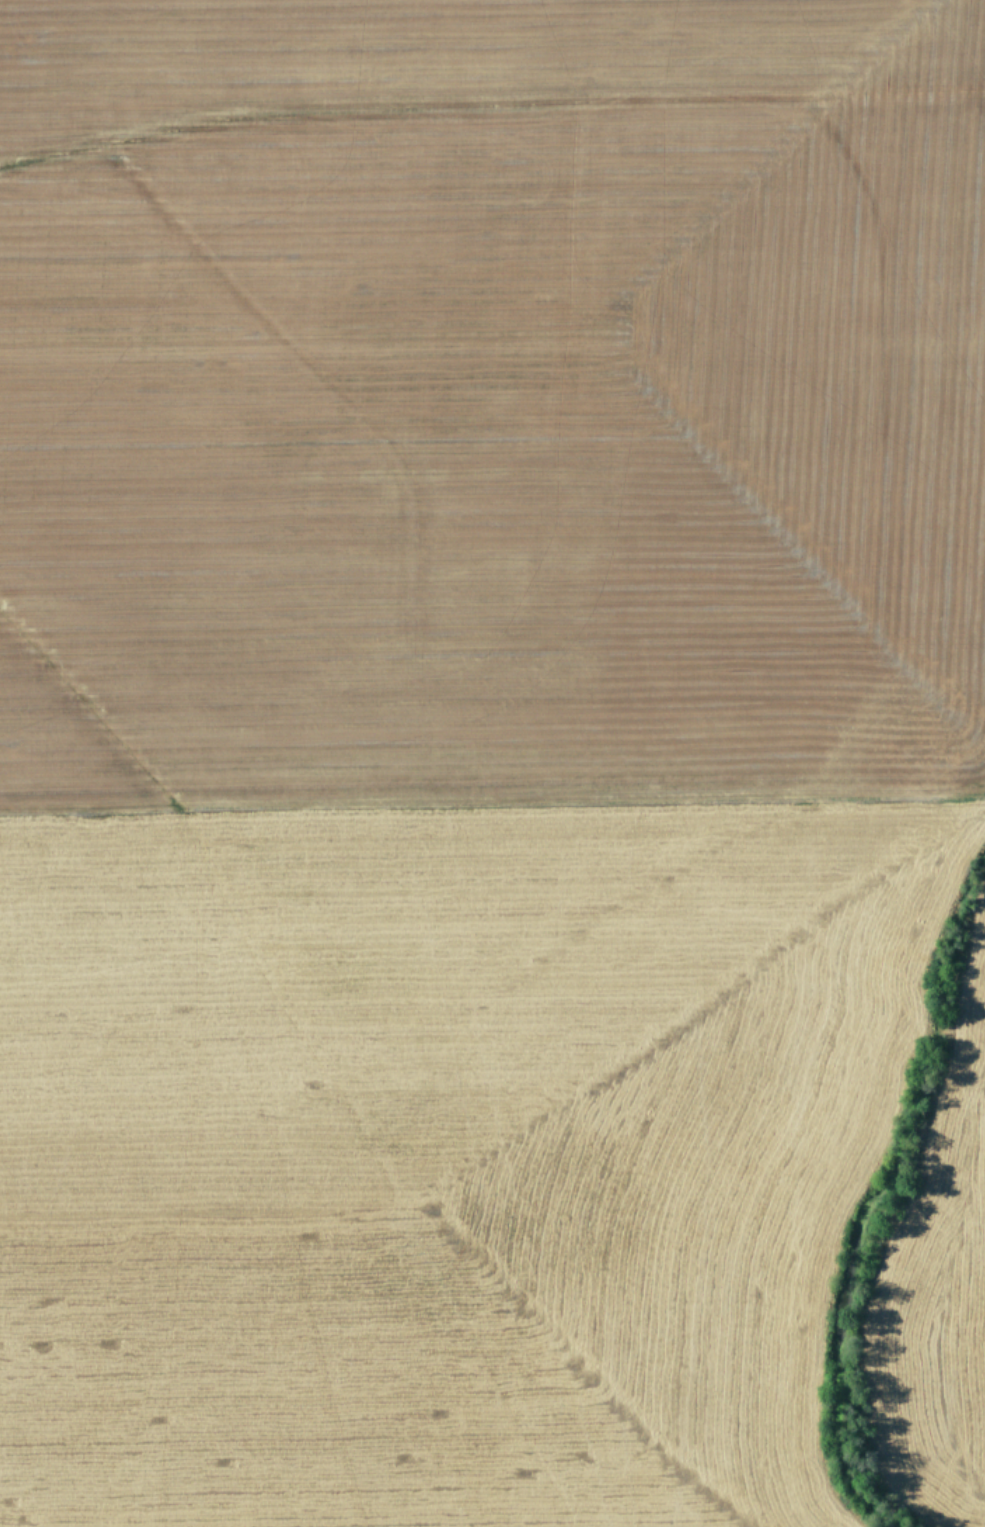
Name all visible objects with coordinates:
crop: (492, 763)

